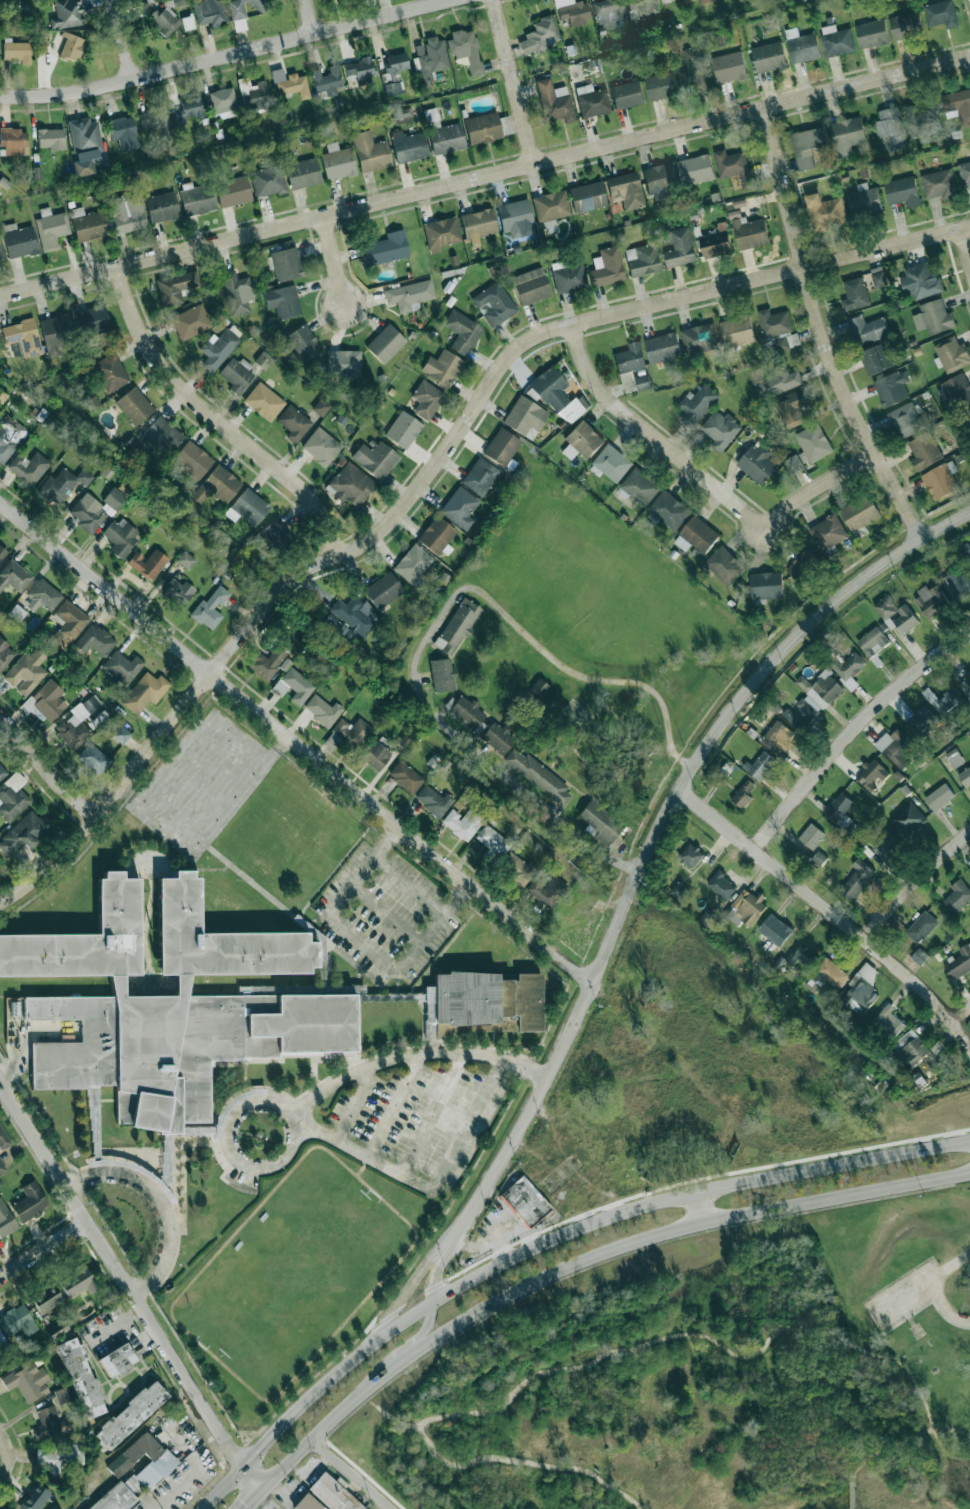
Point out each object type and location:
building: (704, 1)
building: (641, 7)
building: (209, 11)
building: (236, 11)
building: (572, 11)
building: (66, 13)
building: (610, 13)
building: (941, 13)
road: (312, 18)
building: (165, 20)
building: (906, 24)
building: (871, 33)
building: (540, 35)
building: (722, 39)
road: (123, 40)
building: (795, 40)
building: (838, 40)
building: (70, 47)
building: (465, 49)
building: (16, 50)
road: (226, 57)
building: (768, 57)
building: (429, 59)
building: (694, 67)
building: (729, 67)
building: (358, 69)
building: (394, 72)
building: (326, 80)
road: (513, 82)
building: (290, 83)
building: (661, 86)
building: (627, 94)
building: (256, 95)
building: (223, 100)
building: (554, 101)
building: (591, 101)
building: (957, 104)
building: (189, 109)
building: (430, 115)
building: (402, 116)
building: (154, 119)
building: (920, 121)
building: (485, 127)
building: (891, 128)
building: (123, 132)
building: (847, 134)
building: (50, 138)
building: (446, 138)
building: (13, 140)
building: (83, 144)
building: (807, 145)
building: (408, 146)
building: (370, 152)
building: (337, 161)
building: (735, 167)
building: (695, 169)
building: (964, 172)
building: (303, 173)
road: (485, 176)
building: (659, 178)
building: (268, 180)
building: (939, 184)
building: (625, 190)
building: (233, 191)
building: (902, 191)
building: (586, 196)
building: (195, 198)
building: (864, 200)
building: (162, 206)
building: (550, 208)
building: (825, 211)
building: (127, 213)
building: (515, 217)
building: (89, 224)
building: (478, 225)
building: (51, 228)
building: (441, 233)
building: (19, 240)
road: (966, 241)
building: (717, 242)
building: (681, 248)
building: (385, 249)
building: (1, 254)
building: (642, 260)
road: (337, 261)
building: (283, 264)
building: (606, 267)
building: (568, 277)
building: (878, 277)
building: (920, 281)
building: (531, 286)
building: (176, 287)
building: (236, 293)
building: (855, 294)
building: (409, 295)
building: (283, 301)
building: (494, 304)
building: (933, 317)
building: (92, 320)
building: (191, 321)
building: (774, 323)
road: (820, 329)
building: (867, 329)
building: (462, 331)
building: (737, 331)
building: (55, 333)
building: (23, 336)
building: (700, 339)
building: (793, 340)
building: (303, 343)
building: (385, 343)
building: (218, 348)
building: (663, 348)
building: (951, 354)
building: (630, 359)
building: (876, 359)
building: (343, 363)
building: (442, 368)
building: (110, 372)
building: (237, 375)
building: (643, 382)
building: (778, 382)
building: (892, 388)
building: (957, 390)
building: (556, 395)
building: (426, 399)
building: (264, 401)
building: (697, 404)
building: (134, 405)
building: (321, 407)
building: (793, 409)
building: (525, 417)
road: (219, 419)
building: (906, 420)
building: (294, 423)
building: (403, 430)
building: (720, 430)
building: (162, 434)
building: (10, 437)
road: (652, 437)
building: (582, 441)
building: (814, 443)
building: (131, 445)
building: (321, 446)
building: (502, 448)
building: (924, 450)
building: (193, 459)
building: (375, 459)
building: (611, 463)
building: (758, 463)
building: (29, 467)
road: (429, 470)
building: (480, 476)
building: (941, 480)
building: (62, 484)
building: (217, 485)
building: (351, 485)
building: (639, 487)
road: (817, 487)
building: (114, 498)
building: (250, 506)
building: (460, 508)
building: (669, 510)
building: (87, 513)
building: (860, 513)
building: (828, 532)
building: (437, 535)
building: (696, 535)
building: (121, 536)
building: (276, 537)
building: (2, 552)
building: (968, 552)
building: (185, 560)
building: (413, 563)
building: (148, 564)
building: (724, 565)
building: (800, 567)
building: (14, 576)
building: (957, 582)
building: (767, 585)
building: (383, 590)
building: (179, 592)
building: (45, 595)
building: (930, 600)
building: (210, 608)
building: (354, 614)
building: (896, 615)
building: (68, 624)
road: (434, 624)
building: (457, 626)
building: (94, 641)
building: (873, 641)
building: (5, 654)
building: (266, 662)
building: (123, 667)
building: (847, 668)
building: (26, 672)
building: (442, 675)
building: (967, 677)
building: (293, 686)
building: (539, 688)
building: (144, 692)
building: (814, 698)
building: (947, 701)
building: (46, 702)
road: (732, 708)
building: (322, 710)
building: (466, 712)
building: (922, 722)
building: (78, 723)
building: (352, 732)
building: (121, 734)
building: (779, 736)
road: (854, 736)
building: (497, 737)
road: (296, 743)
building: (895, 747)
building: (376, 755)
building: (93, 758)
building: (955, 758)
building: (761, 765)
road: (48, 767)
building: (2, 772)
building: (872, 774)
building: (538, 776)
building: (405, 777)
building: (965, 777)
building: (743, 794)
building: (12, 796)
building: (939, 797)
building: (434, 801)
building: (841, 814)
building: (908, 819)
building: (463, 823)
building: (600, 823)
building: (24, 834)
building: (811, 836)
building: (492, 843)
building: (886, 846)
building: (691, 855)
building: (518, 869)
building: (857, 880)
road: (913, 883)
building: (722, 885)
road: (408, 886)
building: (547, 891)
building: (679, 891)
building: (958, 896)
building: (745, 909)
road: (829, 910)
road: (385, 914)
parking lot: (388, 914)
building: (922, 927)
building: (775, 930)
road: (362, 941)
building: (319, 950)
building: (802, 956)
building: (959, 963)
building: (831, 973)
building: (861, 989)
building: (215, 1005)
building: (14, 1010)
road: (962, 1015)
building: (889, 1022)
road: (24, 1033)
building: (913, 1047)
road: (414, 1055)
road: (353, 1102)
road: (395, 1106)
road: (236, 1111)
road: (529, 1111)
road: (433, 1115)
building: (3, 1140)
building: (2, 1166)
road: (362, 1166)
road: (430, 1188)
road: (691, 1190)
building: (524, 1201)
building: (29, 1202)
road: (162, 1202)
road: (704, 1204)
building: (5, 1219)
road: (411, 1247)
road: (44, 1249)
road: (439, 1262)
road: (585, 1262)
park: (298, 1272)
road: (413, 1280)
building: (77, 1281)
road: (128, 1286)
road: (938, 1288)
road: (903, 1292)
parking lot: (904, 1294)
building: (47, 1299)
road: (927, 1302)
road: (908, 1316)
building: (17, 1321)
road: (116, 1325)
building: (2, 1340)
road: (408, 1340)
road: (727, 1348)
building: (117, 1360)
building: (0, 1361)
building: (80, 1377)
park: (705, 1377)
building: (27, 1381)
building: (62, 1394)
road: (309, 1397)
building: (130, 1414)
road: (389, 1415)
building: (49, 1422)
traffic signals: (257, 1448)
road: (883, 1448)
traffic signals: (230, 1449)
building: (58, 1454)
road: (7, 1456)
building: (162, 1461)
road: (529, 1462)
road: (353, 1474)
road: (192, 1476)
building: (332, 1493)
building: (119, 1495)
road: (853, 1496)
building: (33, 1497)
road: (253, 1498)
building: (306, 1503)
traffic signals: (247, 1504)
building: (52, 1507)

